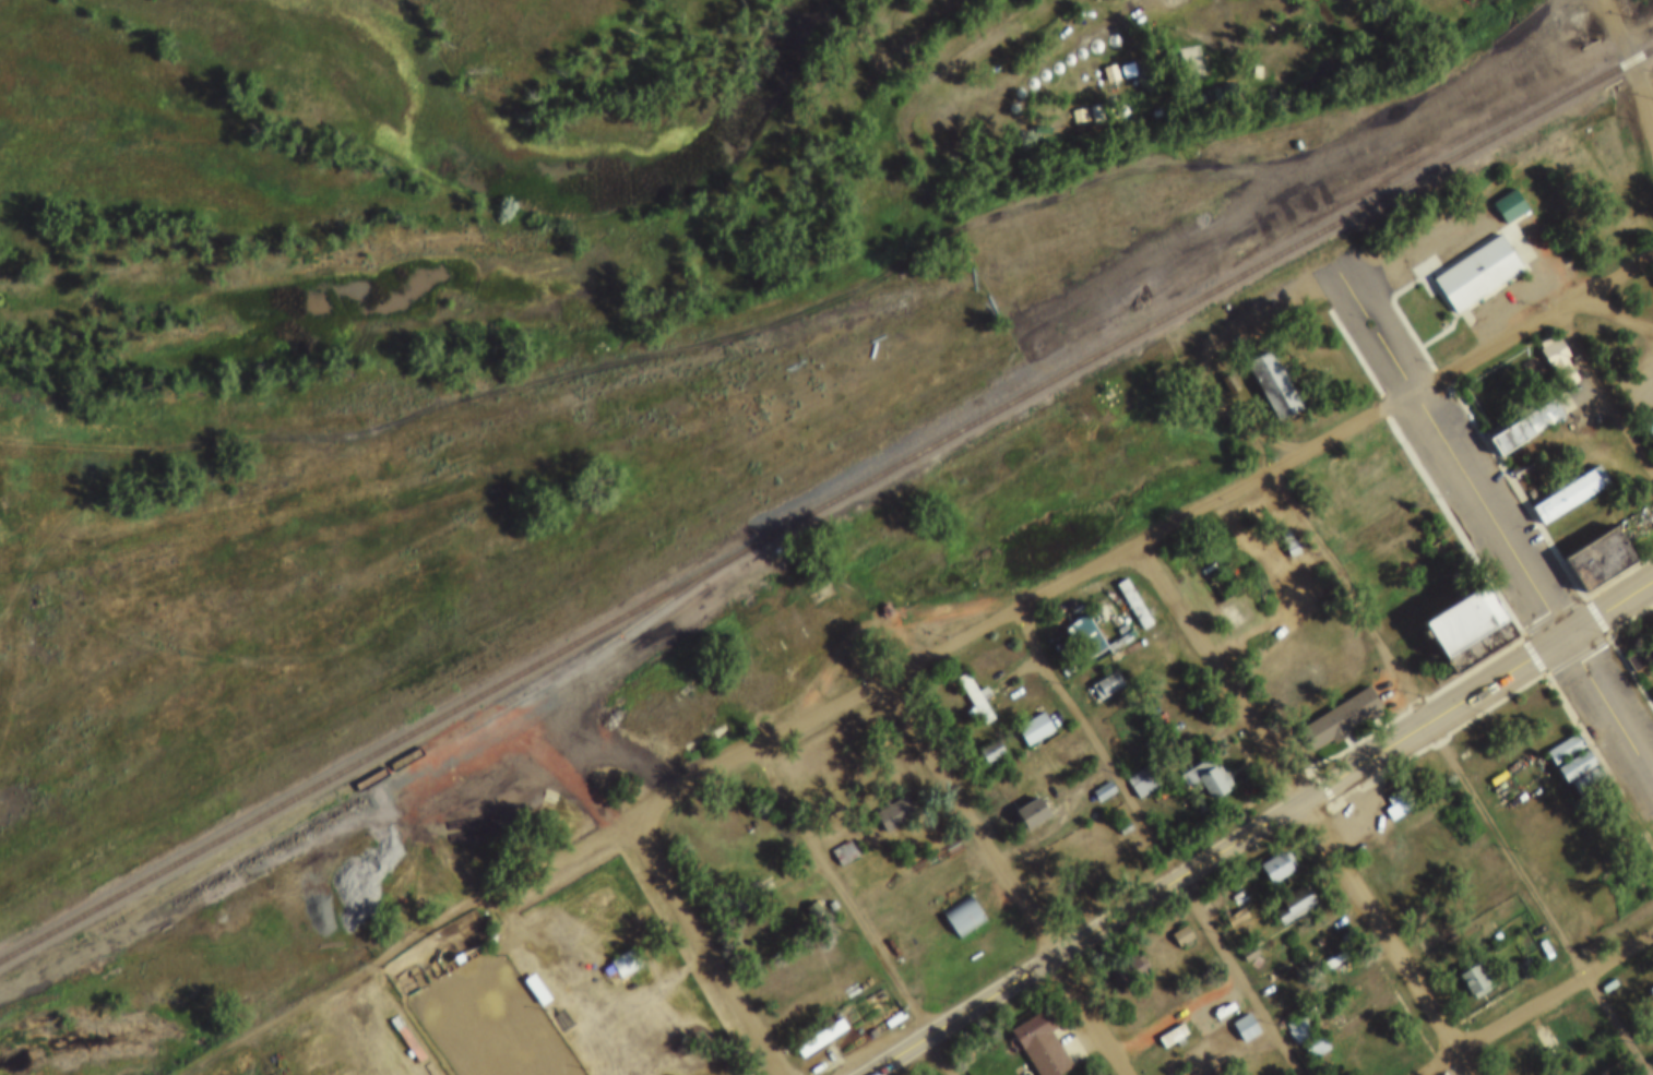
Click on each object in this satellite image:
road: (1598, 11)
building: (1168, 53)
building: (1251, 57)
road: (1633, 73)
building: (1223, 75)
building: (1209, 79)
building: (1194, 84)
road: (927, 87)
building: (1288, 131)
building: (1503, 191)
building: (1510, 208)
building: (1468, 259)
road: (1283, 304)
road: (1618, 315)
building: (1553, 348)
building: (1652, 359)
building: (1264, 371)
building: (1640, 392)
building: (1519, 413)
building: (1645, 416)
road: (1459, 452)
building: (1517, 454)
building: (1563, 480)
building: (1570, 494)
railway: (826, 503)
building: (1282, 529)
road: (1144, 542)
building: (1590, 544)
road: (1228, 548)
building: (1451, 607)
building: (1078, 623)
building: (1101, 670)
building: (970, 684)
building: (1107, 685)
building: (1301, 691)
road: (1613, 698)
building: (1333, 704)
building: (1028, 714)
road: (1084, 719)
building: (1340, 719)
building: (1035, 730)
building: (1559, 733)
building: (985, 737)
building: (1569, 751)
building: (991, 753)
building: (1200, 764)
building: (1137, 766)
building: (1580, 768)
building: (1098, 777)
building: (1208, 780)
building: (1143, 784)
building: (1394, 787)
building: (1194, 790)
building: (757, 791)
building: (1104, 793)
building: (1023, 798)
building: (889, 800)
building: (1402, 802)
road: (1306, 810)
building: (1032, 814)
building: (1120, 814)
building: (1175, 814)
building: (895, 815)
road: (1061, 817)
road: (1258, 827)
building: (839, 836)
building: (1271, 851)
building: (845, 853)
building: (1277, 868)
road: (1011, 877)
building: (737, 886)
building: (1289, 889)
building: (826, 891)
building: (746, 899)
building: (958, 900)
building: (1230, 903)
building: (1296, 905)
road: (856, 911)
building: (964, 919)
building: (1178, 922)
building: (1461, 924)
building: (1182, 937)
building: (1244, 939)
storage tank: (971, 941)
building: (1468, 942)
building: (450, 944)
road: (407, 945)
road: (705, 946)
building: (619, 949)
building: (1323, 951)
building: (1520, 953)
building: (1122, 956)
building: (627, 964)
building: (1330, 965)
building: (1467, 966)
building: (1131, 970)
building: (532, 975)
building: (1474, 982)
building: (536, 991)
road: (1536, 1002)
building: (1296, 1011)
building: (1240, 1013)
park: (490, 1014)
building: (1168, 1022)
building: (402, 1024)
road: (1614, 1024)
building: (813, 1027)
building: (1036, 1029)
building: (1246, 1029)
building: (1298, 1030)
building: (1311, 1031)
building: (1174, 1038)
building: (408, 1039)
building: (817, 1039)
building: (1317, 1049)
building: (1205, 1055)
building: (1055, 1056)
building: (1608, 1058)
building: (1559, 1072)

